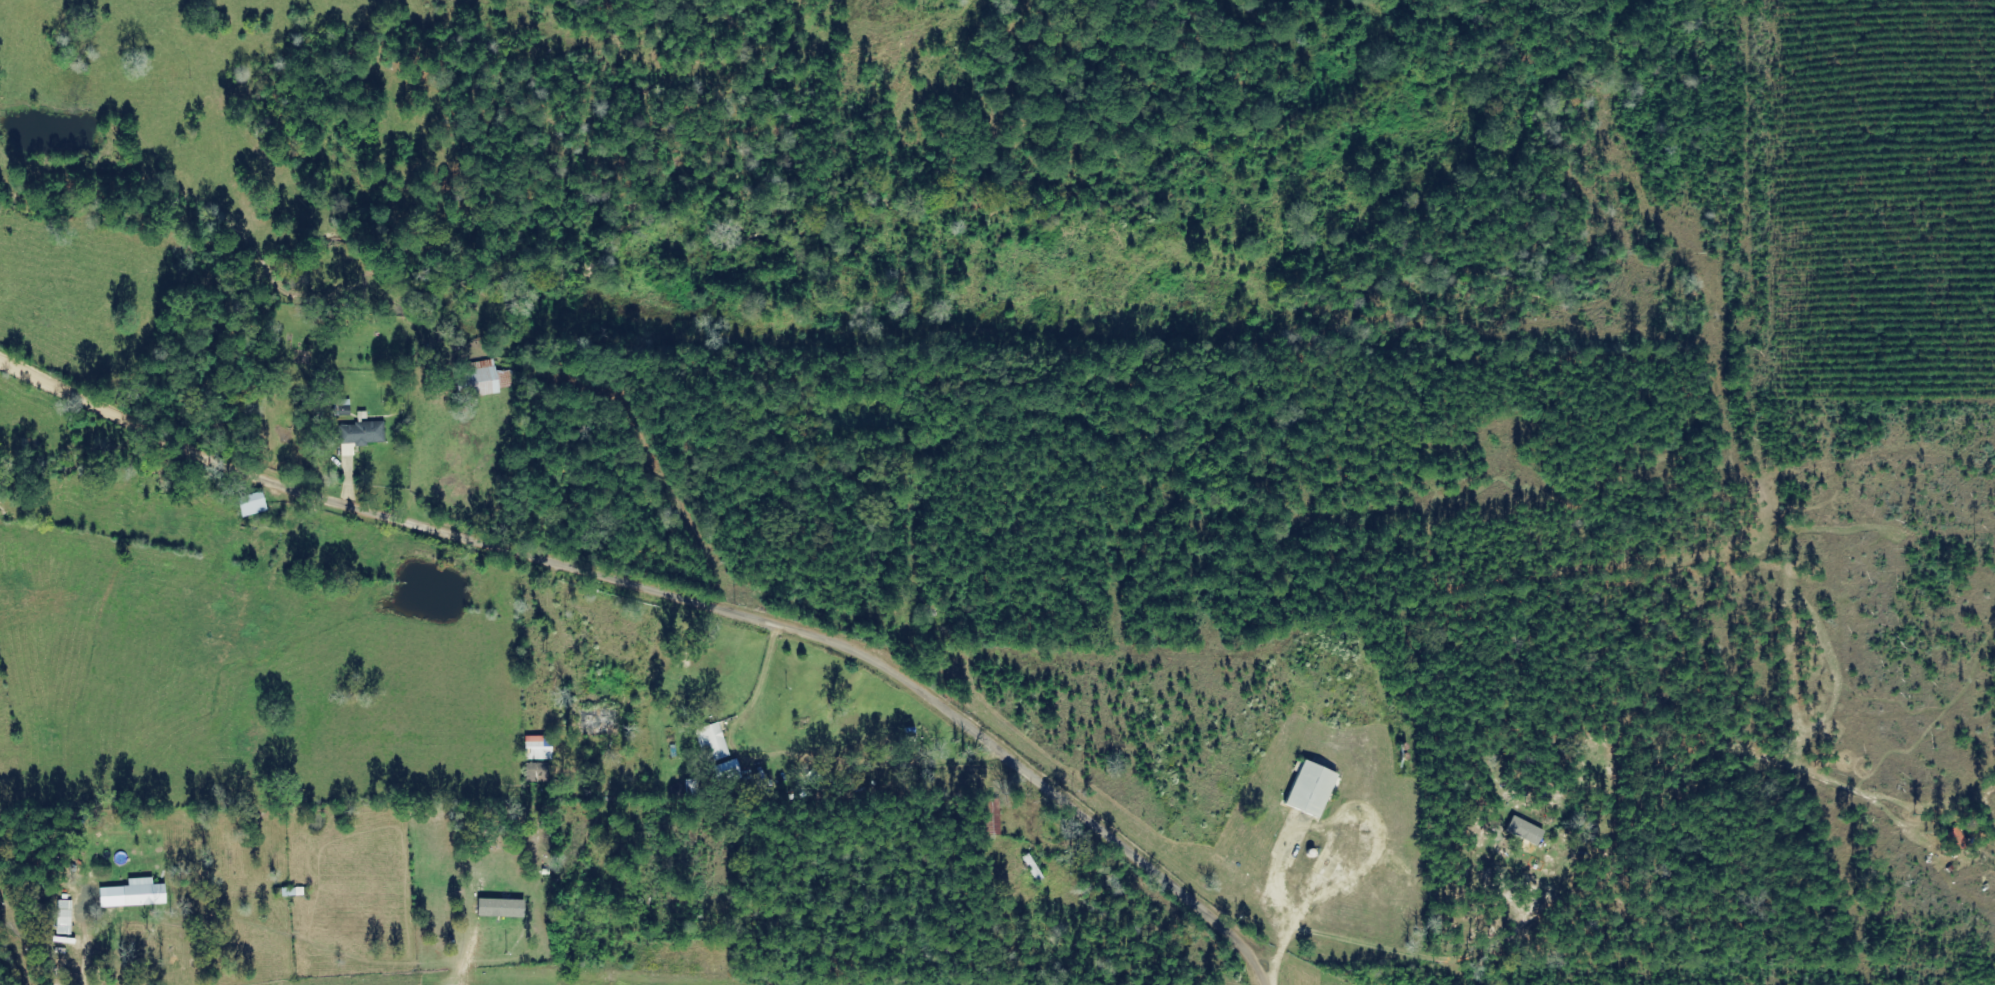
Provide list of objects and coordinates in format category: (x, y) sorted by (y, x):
building: (509, 380)
building: (490, 382)
building: (367, 434)
road: (1956, 453)
building: (258, 504)
road: (441, 530)
building: (712, 742)
building: (544, 747)
building: (726, 770)
building: (1308, 790)
road: (1088, 820)
building: (1524, 831)
building: (149, 892)
building: (505, 907)
building: (68, 917)

